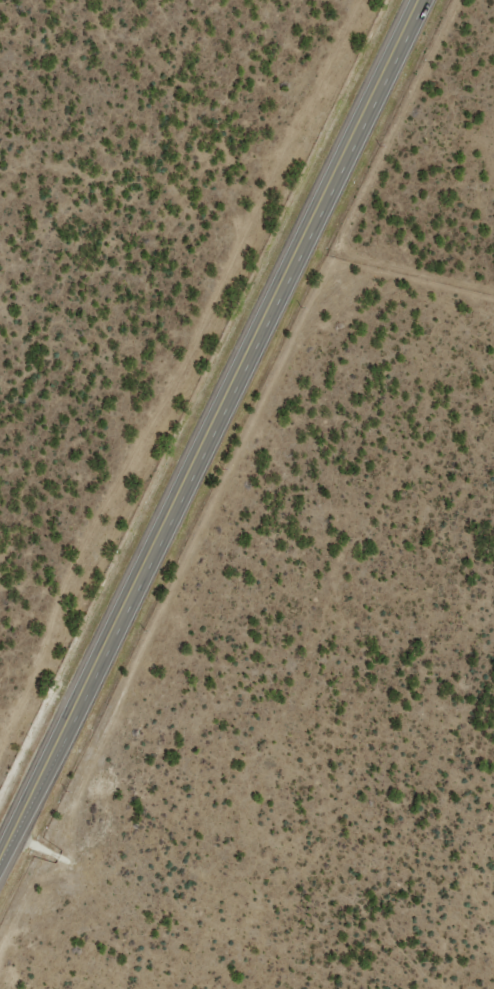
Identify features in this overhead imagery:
road: (214, 438)

